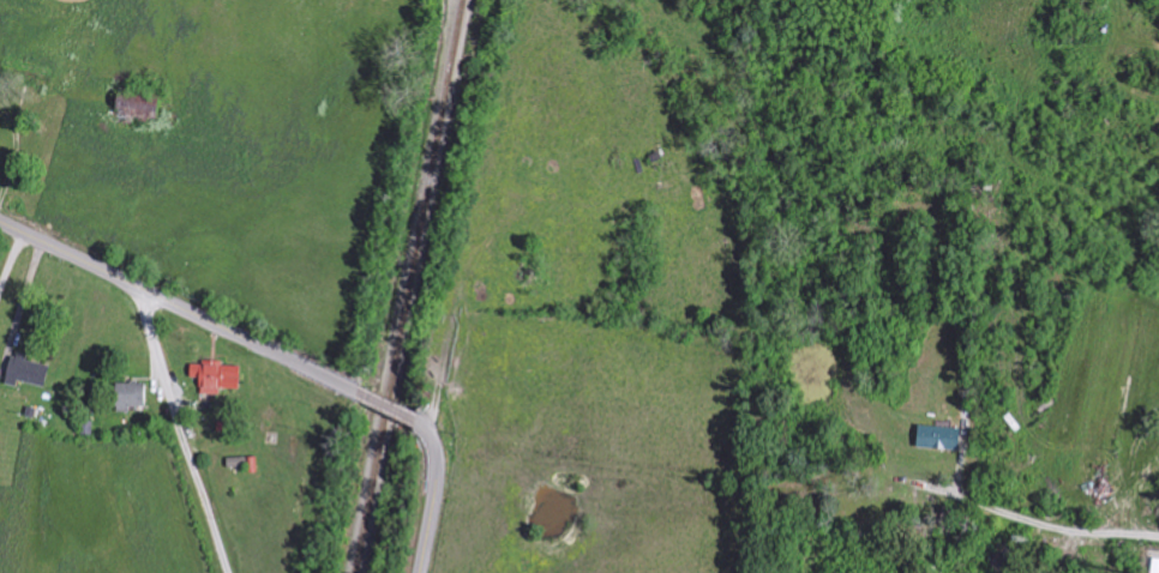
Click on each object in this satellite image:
road: (1099, 80)
road: (8, 251)
railway: (410, 286)
road: (178, 304)
building: (25, 372)
building: (215, 376)
building: (128, 396)
road: (386, 404)
road: (175, 428)
building: (937, 438)
road: (439, 491)
road: (1033, 520)
building: (1154, 566)

